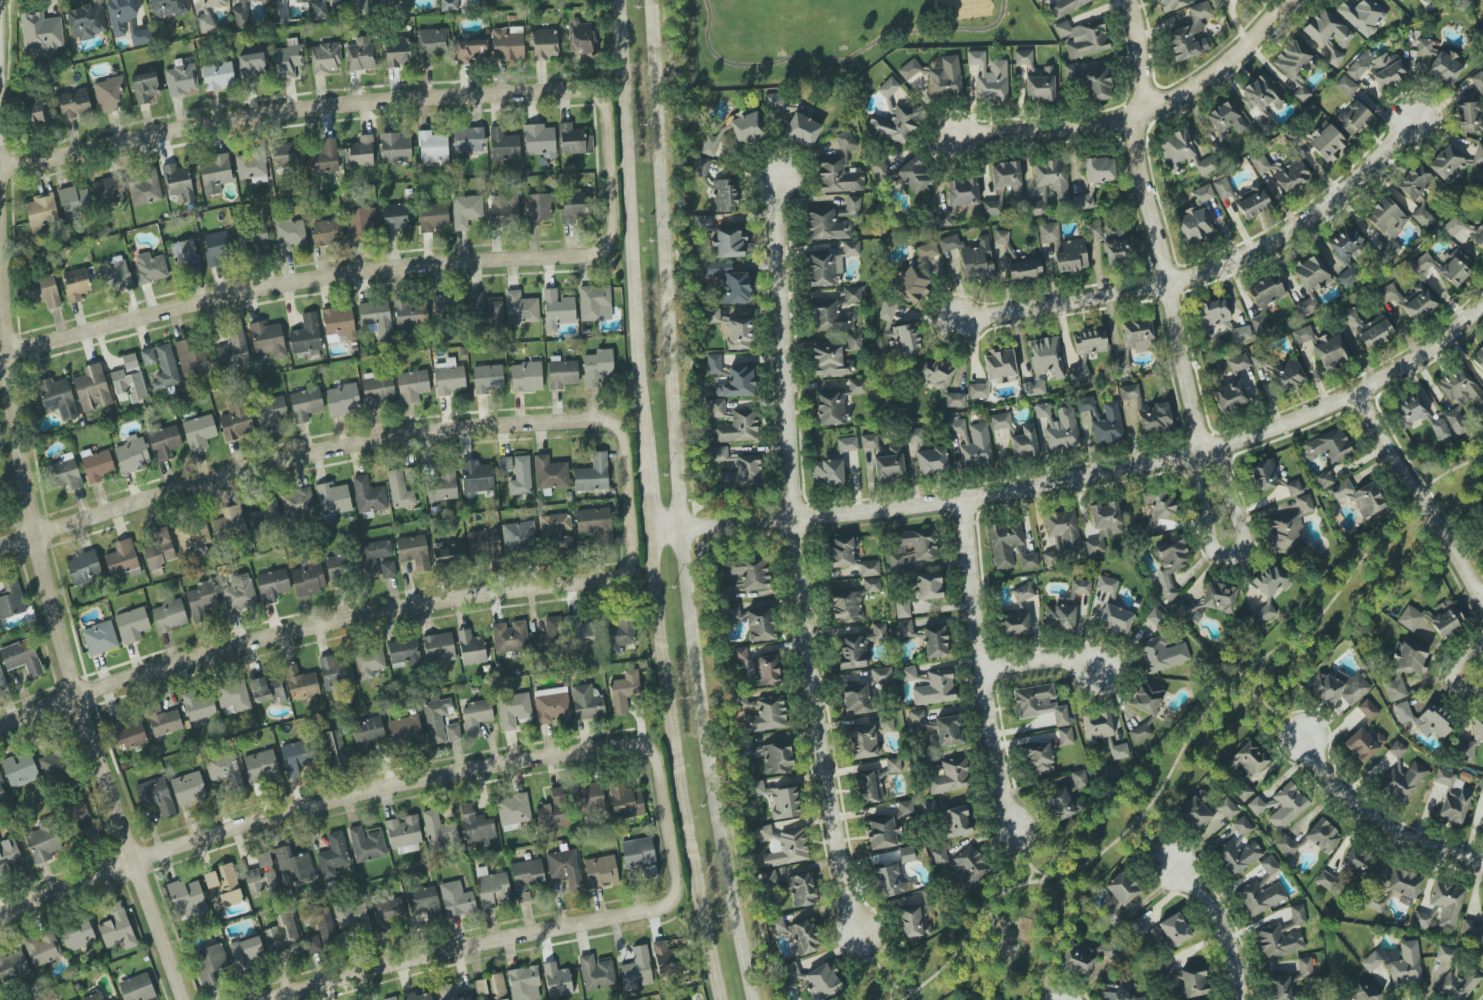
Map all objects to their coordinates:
building: (494, 0)
building: (1238, 0)
building: (300, 1)
building: (384, 2)
building: (212, 3)
building: (1174, 4)
building: (449, 5)
building: (404, 6)
building: (359, 7)
building: (169, 8)
building: (319, 9)
building: (241, 13)
building: (279, 13)
building: (1361, 14)
building: (120, 15)
building: (86, 21)
building: (205, 22)
building: (1328, 29)
building: (40, 34)
building: (1189, 34)
building: (140, 37)
building: (580, 37)
building: (1083, 38)
building: (507, 43)
building: (545, 43)
building: (432, 44)
building: (1424, 46)
building: (471, 50)
building: (397, 52)
building: (361, 55)
building: (1333, 56)
building: (1022, 57)
building: (325, 58)
building: (288, 59)
road: (840, 61)
building: (1292, 61)
building: (252, 64)
building: (1379, 68)
building: (1445, 68)
building: (1072, 71)
building: (218, 76)
building: (938, 77)
building: (990, 78)
building: (1477, 82)
building: (1096, 85)
building: (1346, 85)
building: (1041, 86)
building: (144, 87)
building: (888, 87)
building: (108, 94)
building: (1302, 94)
building: (1262, 101)
building: (775, 103)
building: (74, 104)
road: (335, 105)
road: (1135, 110)
building: (35, 111)
building: (1469, 117)
building: (1226, 118)
building: (1354, 118)
building: (894, 125)
building: (742, 127)
building: (802, 130)
building: (468, 140)
building: (539, 140)
building: (574, 140)
building: (1326, 141)
building: (503, 144)
building: (709, 145)
building: (395, 148)
building: (432, 149)
building: (360, 152)
building: (1182, 153)
building: (286, 154)
building: (1478, 154)
building: (324, 157)
building: (1260, 163)
building: (1447, 164)
building: (251, 166)
building: (701, 167)
building: (840, 169)
building: (1099, 170)
building: (215, 173)
building: (913, 175)
building: (1291, 175)
building: (1006, 177)
building: (178, 182)
building: (1415, 182)
building: (1049, 185)
building: (145, 187)
building: (1222, 188)
building: (1481, 188)
building: (108, 190)
building: (962, 192)
building: (1202, 194)
building: (724, 195)
building: (74, 201)
building: (1252, 204)
building: (573, 206)
building: (539, 208)
building: (850, 208)
building: (990, 208)
building: (504, 209)
building: (466, 211)
building: (41, 212)
building: (1422, 216)
building: (433, 217)
building: (394, 218)
building: (940, 219)
building: (703, 222)
building: (359, 223)
road: (1151, 224)
building: (1194, 224)
building: (1387, 224)
building: (825, 225)
building: (1452, 226)
road: (632, 227)
building: (326, 232)
building: (1048, 232)
building: (289, 233)
building: (1478, 236)
building: (1001, 237)
building: (729, 243)
building: (1112, 244)
building: (217, 248)
building: (927, 250)
building: (1347, 252)
building: (185, 255)
building: (1071, 256)
building: (972, 257)
building: (1422, 263)
building: (830, 265)
building: (1454, 267)
building: (150, 268)
building: (1025, 268)
road: (1208, 270)
building: (116, 274)
road: (338, 279)
building: (1310, 281)
building: (728, 282)
building: (76, 284)
building: (910, 285)
building: (42, 291)
building: (1266, 291)
building: (1386, 293)
building: (855, 294)
building: (1418, 302)
building: (595, 303)
building: (448, 305)
building: (521, 308)
building: (487, 309)
building: (557, 310)
building: (886, 312)
building: (410, 313)
building: (830, 317)
building: (377, 318)
building: (1221, 319)
building: (338, 324)
building: (732, 328)
building: (1367, 328)
building: (306, 335)
building: (1302, 335)
building: (1137, 336)
building: (267, 339)
building: (906, 340)
building: (854, 341)
building: (1089, 342)
building: (233, 349)
building: (1331, 351)
building: (148, 357)
building: (1478, 357)
building: (193, 358)
building: (829, 360)
building: (1120, 363)
building: (1238, 363)
building: (713, 364)
building: (1043, 364)
building: (597, 367)
building: (1000, 367)
building: (165, 368)
building: (562, 372)
building: (935, 373)
building: (1080, 374)
building: (1286, 374)
building: (448, 377)
building: (526, 377)
building: (487, 378)
building: (129, 380)
building: (737, 383)
building: (412, 386)
building: (857, 386)
building: (92, 388)
building: (377, 391)
building: (978, 391)
building: (1230, 396)
building: (1459, 396)
building: (57, 397)
building: (343, 400)
building: (955, 400)
building: (305, 404)
building: (715, 408)
building: (831, 409)
building: (1042, 410)
building: (1149, 412)
building: (270, 413)
building: (1417, 415)
building: (236, 419)
building: (1104, 420)
building: (1000, 421)
building: (956, 425)
building: (737, 428)
road: (451, 431)
building: (1063, 431)
building: (199, 432)
building: (914, 435)
building: (164, 443)
building: (1024, 443)
building: (847, 444)
building: (1328, 446)
building: (977, 447)
building: (718, 453)
building: (132, 454)
building: (885, 459)
building: (931, 461)
building: (505, 464)
building: (96, 465)
building: (64, 473)
building: (550, 473)
building: (742, 473)
building: (828, 473)
building: (592, 474)
road: (1086, 474)
building: (476, 476)
building: (520, 476)
building: (1270, 477)
building: (1325, 480)
building: (442, 487)
building: (399, 489)
road: (649, 491)
building: (368, 495)
building: (1359, 496)
road: (1422, 499)
building: (332, 500)
road: (676, 502)
building: (297, 503)
building: (1160, 503)
building: (1481, 510)
building: (264, 517)
building: (229, 523)
building: (595, 524)
building: (553, 525)
building: (1103, 525)
building: (1288, 528)
building: (1143, 529)
building: (1063, 531)
building: (193, 535)
building: (519, 535)
building: (484, 543)
building: (565, 544)
building: (913, 546)
building: (1009, 546)
building: (159, 549)
building: (1481, 549)
road: (1228, 550)
building: (414, 552)
building: (841, 552)
road: (800, 553)
building: (449, 554)
building: (373, 556)
building: (122, 558)
building: (1169, 564)
building: (84, 568)
building: (868, 568)
building: (338, 570)
building: (388, 570)
building: (744, 575)
building: (308, 579)
building: (1270, 580)
building: (1105, 584)
building: (272, 585)
building: (929, 586)
building: (1080, 587)
building: (1022, 593)
building: (239, 594)
building: (1218, 597)
building: (11, 599)
building: (202, 601)
building: (852, 602)
road: (1481, 602)
building: (902, 608)
building: (1186, 609)
building: (1264, 613)
building: (1059, 614)
building: (169, 616)
building: (1156, 618)
building: (1115, 619)
building: (1433, 619)
building: (753, 621)
building: (1014, 623)
building: (131, 625)
building: (907, 629)
building: (566, 634)
building: (510, 637)
building: (620, 637)
building: (100, 638)
building: (935, 641)
road: (62, 644)
road: (238, 646)
building: (859, 647)
building: (438, 648)
building: (471, 648)
building: (404, 653)
building: (1161, 654)
building: (21, 657)
building: (1408, 657)
building: (368, 662)
road: (1044, 662)
road: (988, 664)
building: (758, 666)
road: (1450, 669)
building: (908, 673)
building: (336, 675)
building: (881, 675)
building: (2, 677)
building: (301, 683)
building: (935, 688)
building: (1338, 688)
building: (267, 689)
building: (1394, 689)
building: (624, 691)
building: (233, 695)
building: (1147, 697)
building: (856, 699)
building: (586, 702)
building: (1039, 704)
building: (198, 705)
building: (552, 705)
road: (1267, 706)
building: (514, 710)
building: (1367, 710)
building: (766, 715)
building: (475, 717)
building: (437, 718)
building: (916, 719)
building: (1426, 719)
building: (163, 721)
building: (1096, 727)
building: (1477, 728)
building: (406, 730)
building: (1143, 730)
road: (1190, 730)
building: (948, 731)
building: (453, 732)
building: (367, 733)
building: (130, 734)
building: (1065, 736)
building: (867, 738)
building: (336, 744)
building: (1363, 744)
building: (1397, 749)
park: (1184, 751)
building: (1464, 751)
building: (1119, 752)
building: (770, 755)
building: (297, 758)
building: (1038, 758)
road: (677, 764)
building: (53, 765)
building: (892, 765)
building: (261, 766)
building: (1246, 767)
building: (20, 770)
building: (225, 771)
road: (455, 775)
building: (950, 776)
building: (1079, 779)
building: (1403, 782)
building: (868, 786)
building: (188, 788)
building: (1481, 788)
building: (3, 792)
building: (155, 796)
building: (588, 797)
building: (1451, 798)
building: (779, 800)
building: (625, 801)
building: (1059, 805)
building: (1258, 806)
building: (1287, 806)
building: (1228, 808)
building: (513, 810)
building: (554, 810)
building: (77, 812)
building: (1195, 812)
road: (1379, 819)
building: (954, 822)
building: (475, 825)
building: (1242, 826)
building: (889, 827)
building: (440, 831)
building: (404, 834)
building: (1323, 836)
building: (42, 842)
building: (367, 844)
building: (1286, 845)
building: (783, 846)
road: (1147, 847)
road: (1027, 852)
building: (906, 854)
building: (333, 855)
building: (640, 855)
building: (1237, 856)
building: (10, 858)
building: (1362, 864)
building: (1269, 865)
building: (293, 866)
building: (960, 866)
building: (564, 867)
building: (601, 870)
building: (262, 876)
building: (526, 877)
building: (769, 878)
building: (889, 880)
building: (1325, 880)
building: (224, 885)
road: (1045, 887)
building: (492, 888)
building: (1122, 888)
building: (802, 890)
building: (1259, 897)
building: (186, 899)
building: (456, 900)
building: (424, 903)
building: (1375, 903)
building: (1447, 903)
building: (388, 912)
building: (351, 917)
building: (1421, 919)
building: (914, 921)
building: (321, 923)
road: (1216, 923)
building: (777, 925)
building: (117, 928)
building: (1472, 928)
building: (1137, 929)
building: (1174, 929)
building: (77, 935)
road: (1047, 936)
building: (803, 937)
building: (289, 938)
building: (1277, 941)
building: (43, 949)
building: (247, 953)
building: (1445, 954)
building: (664, 958)
road: (415, 959)
building: (1076, 960)
building: (1371, 962)
building: (209, 963)
road: (874, 964)
building: (1406, 964)
building: (12, 965)
building: (1305, 967)
building: (636, 969)
building: (1166, 969)
building: (791, 970)
building: (596, 973)
building: (557, 980)
building: (823, 982)
building: (524, 983)
building: (1192, 983)
building: (1457, 984)
building: (1279, 987)
building: (137, 988)
building: (490, 988)
building: (1114, 992)
building: (450, 993)
building: (1365, 993)
building: (418, 996)
building: (94, 997)
building: (1139, 998)
building: (392, 999)

